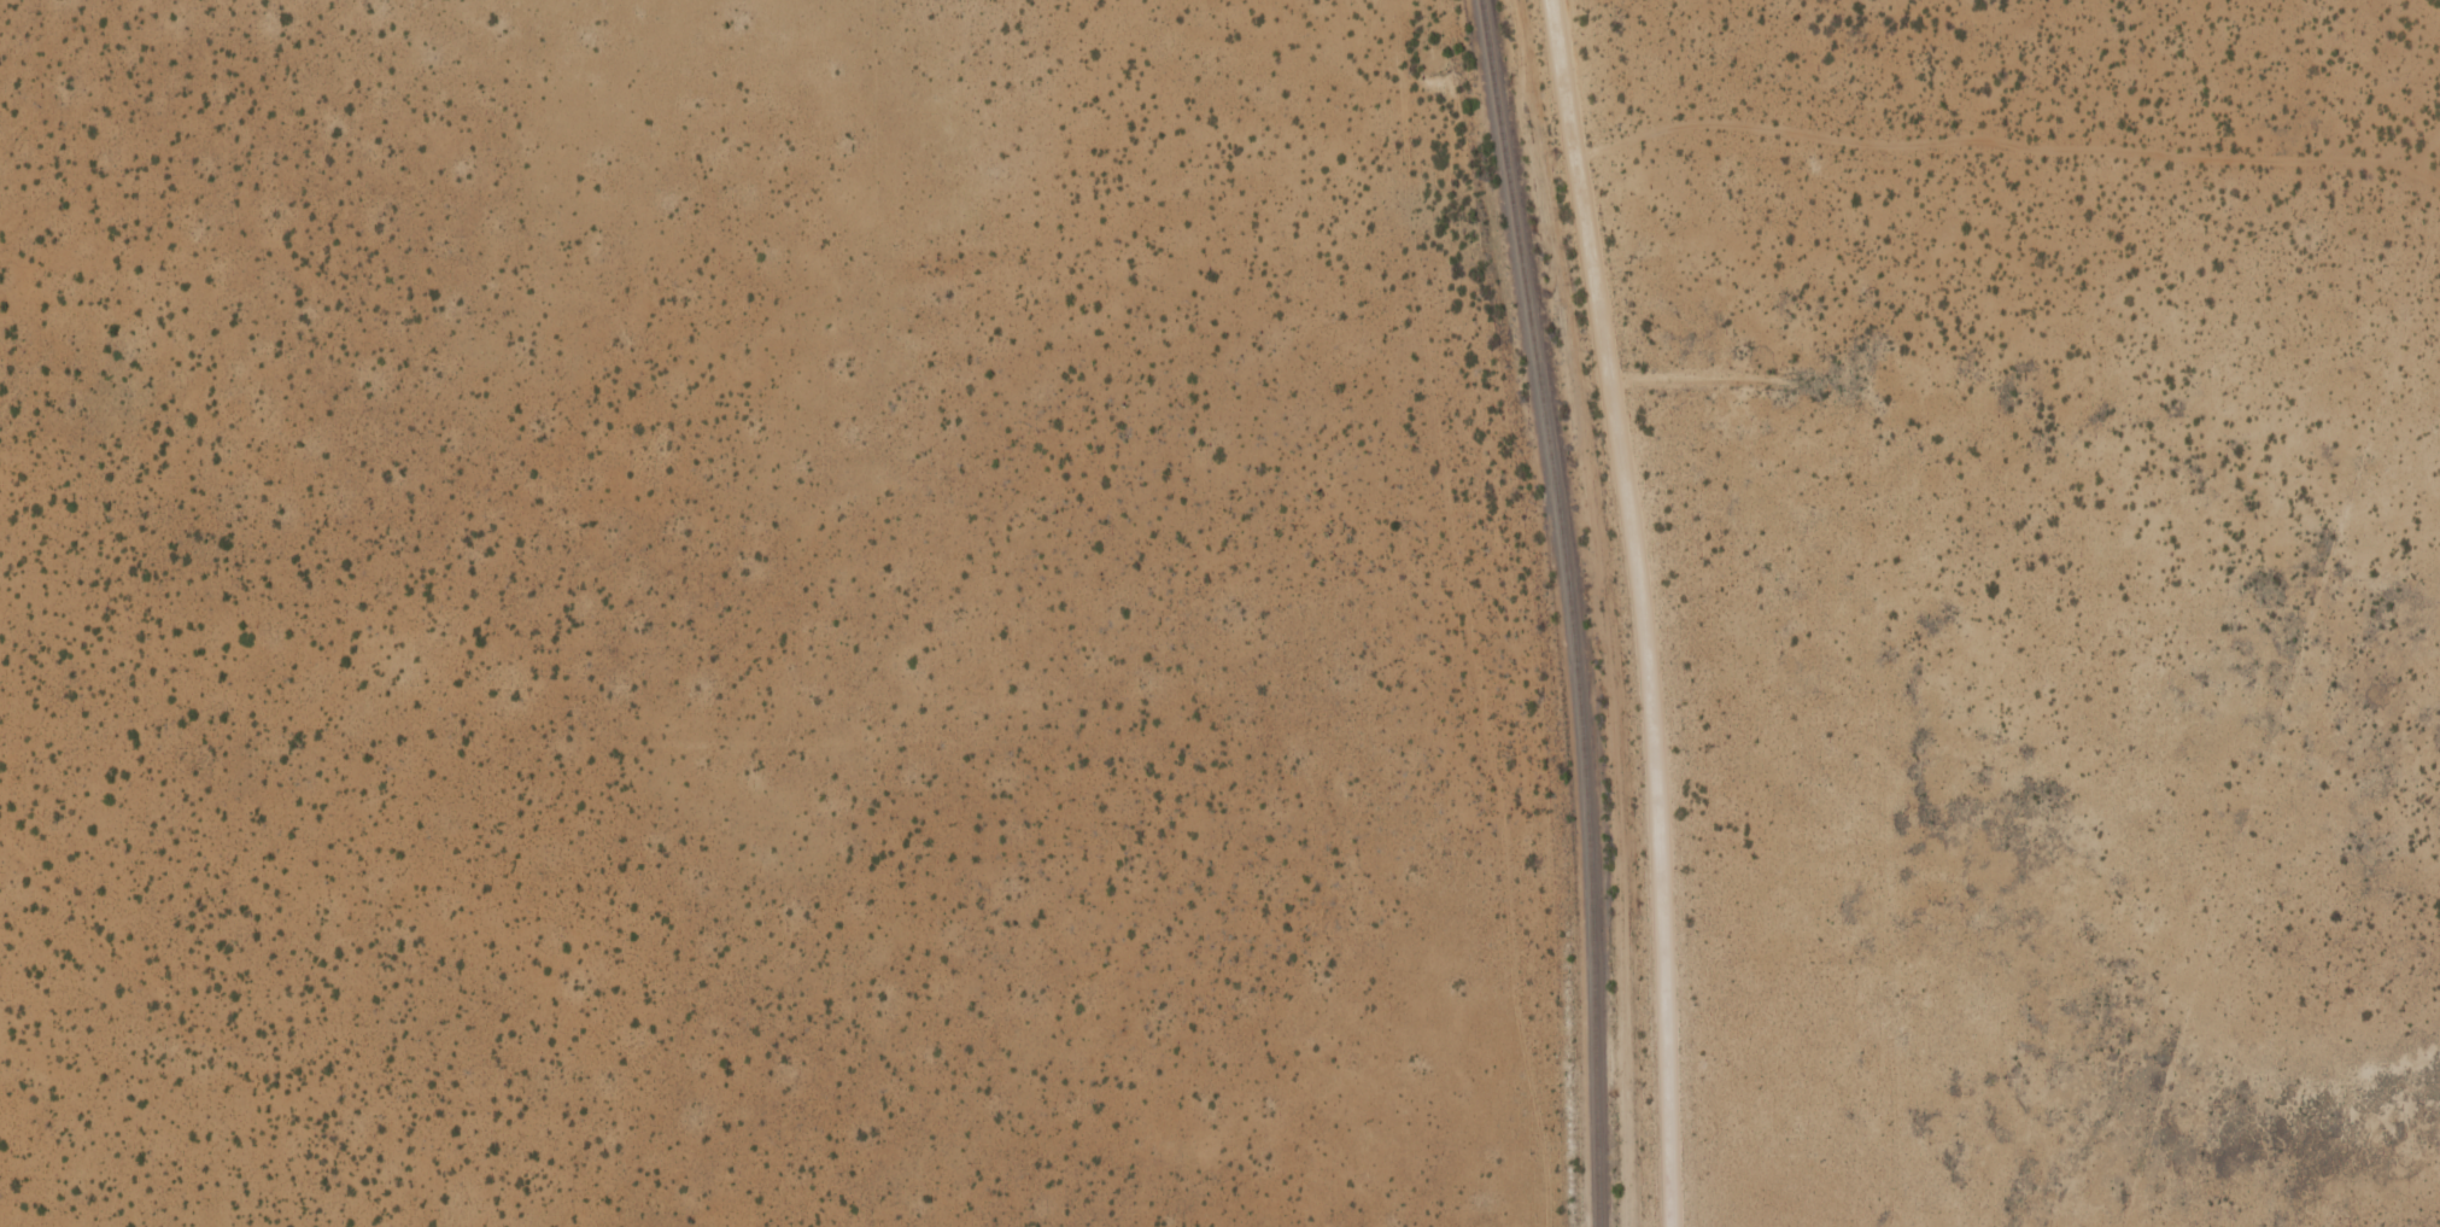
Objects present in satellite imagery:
railway: (1570, 610)
road: (1639, 610)
road: (125, 1111)

